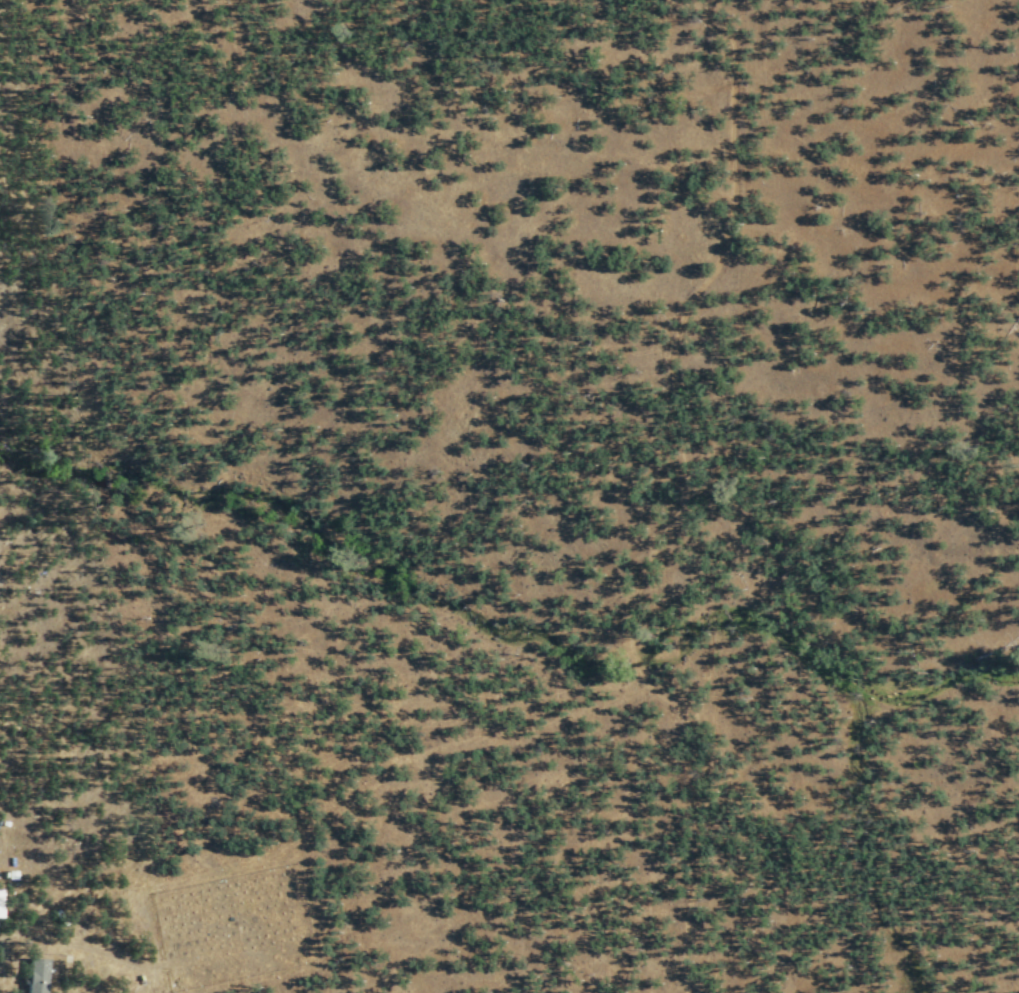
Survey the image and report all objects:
building: (1, 903)
building: (37, 975)

